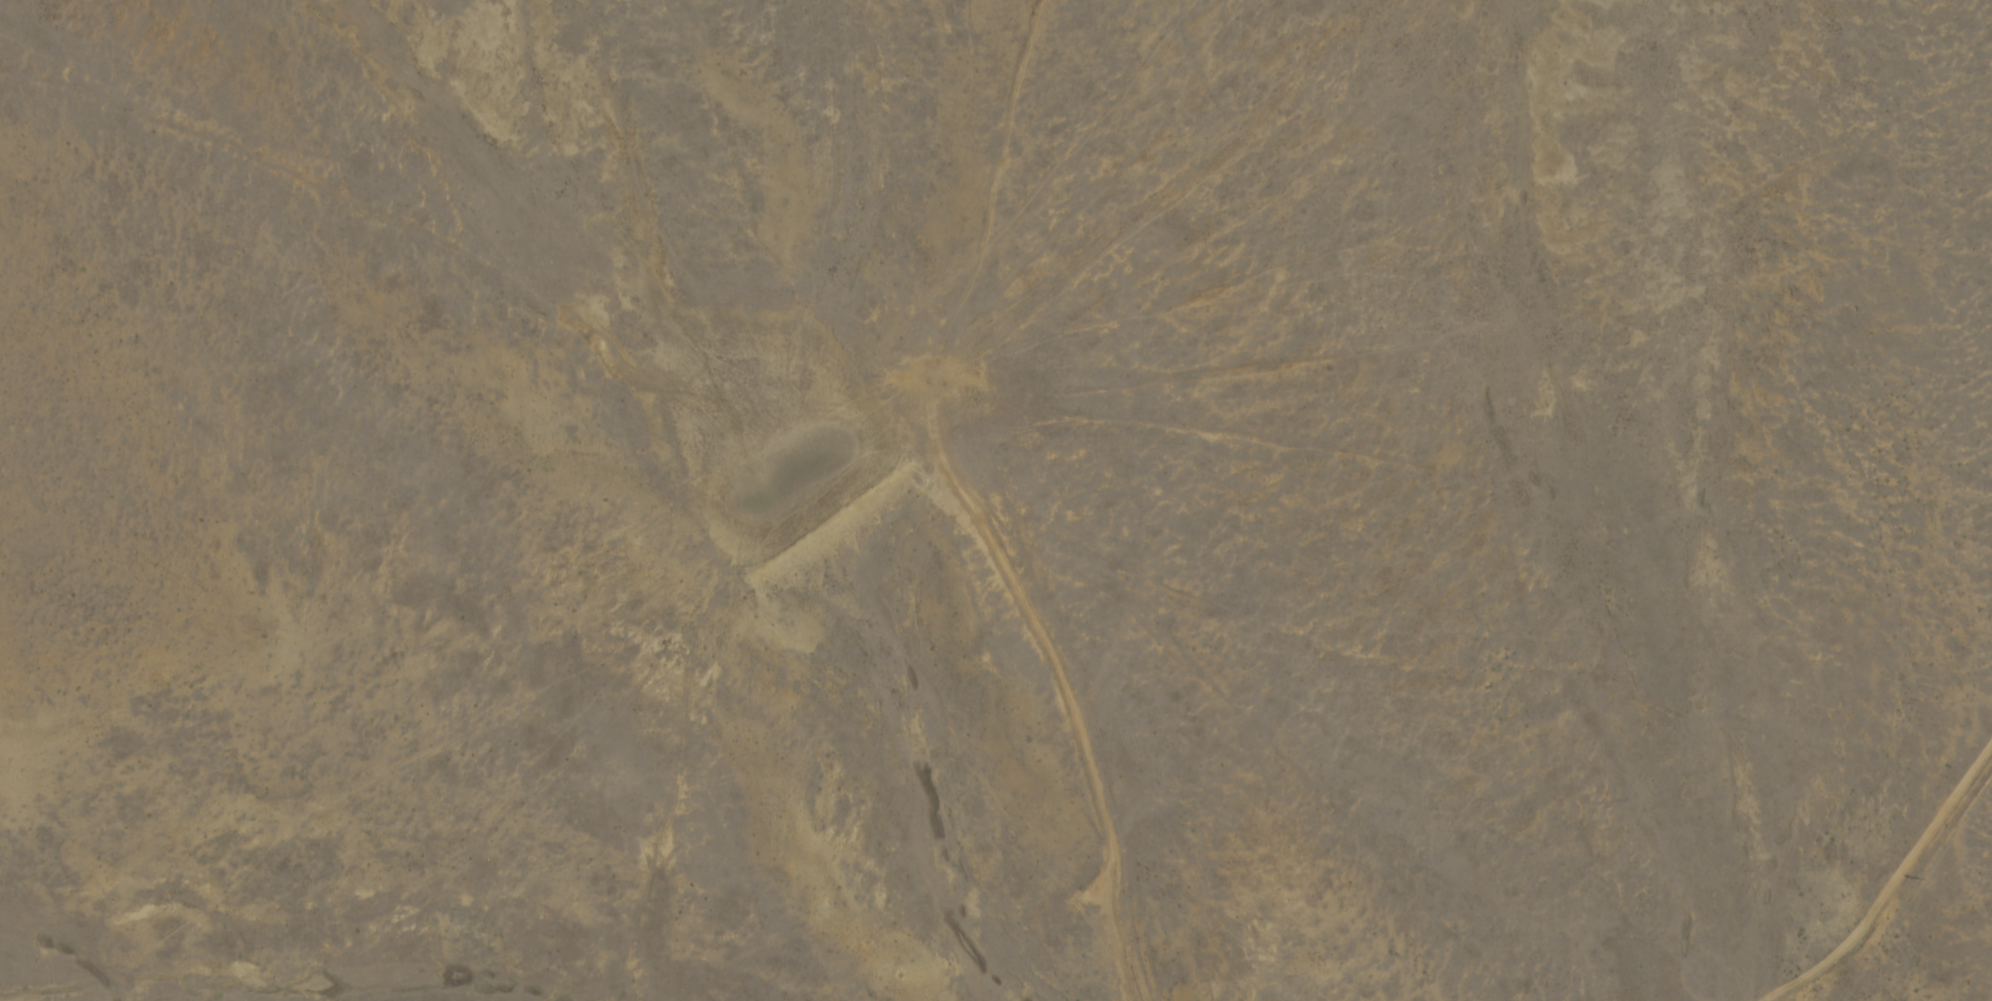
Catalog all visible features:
road: (1049, 713)

